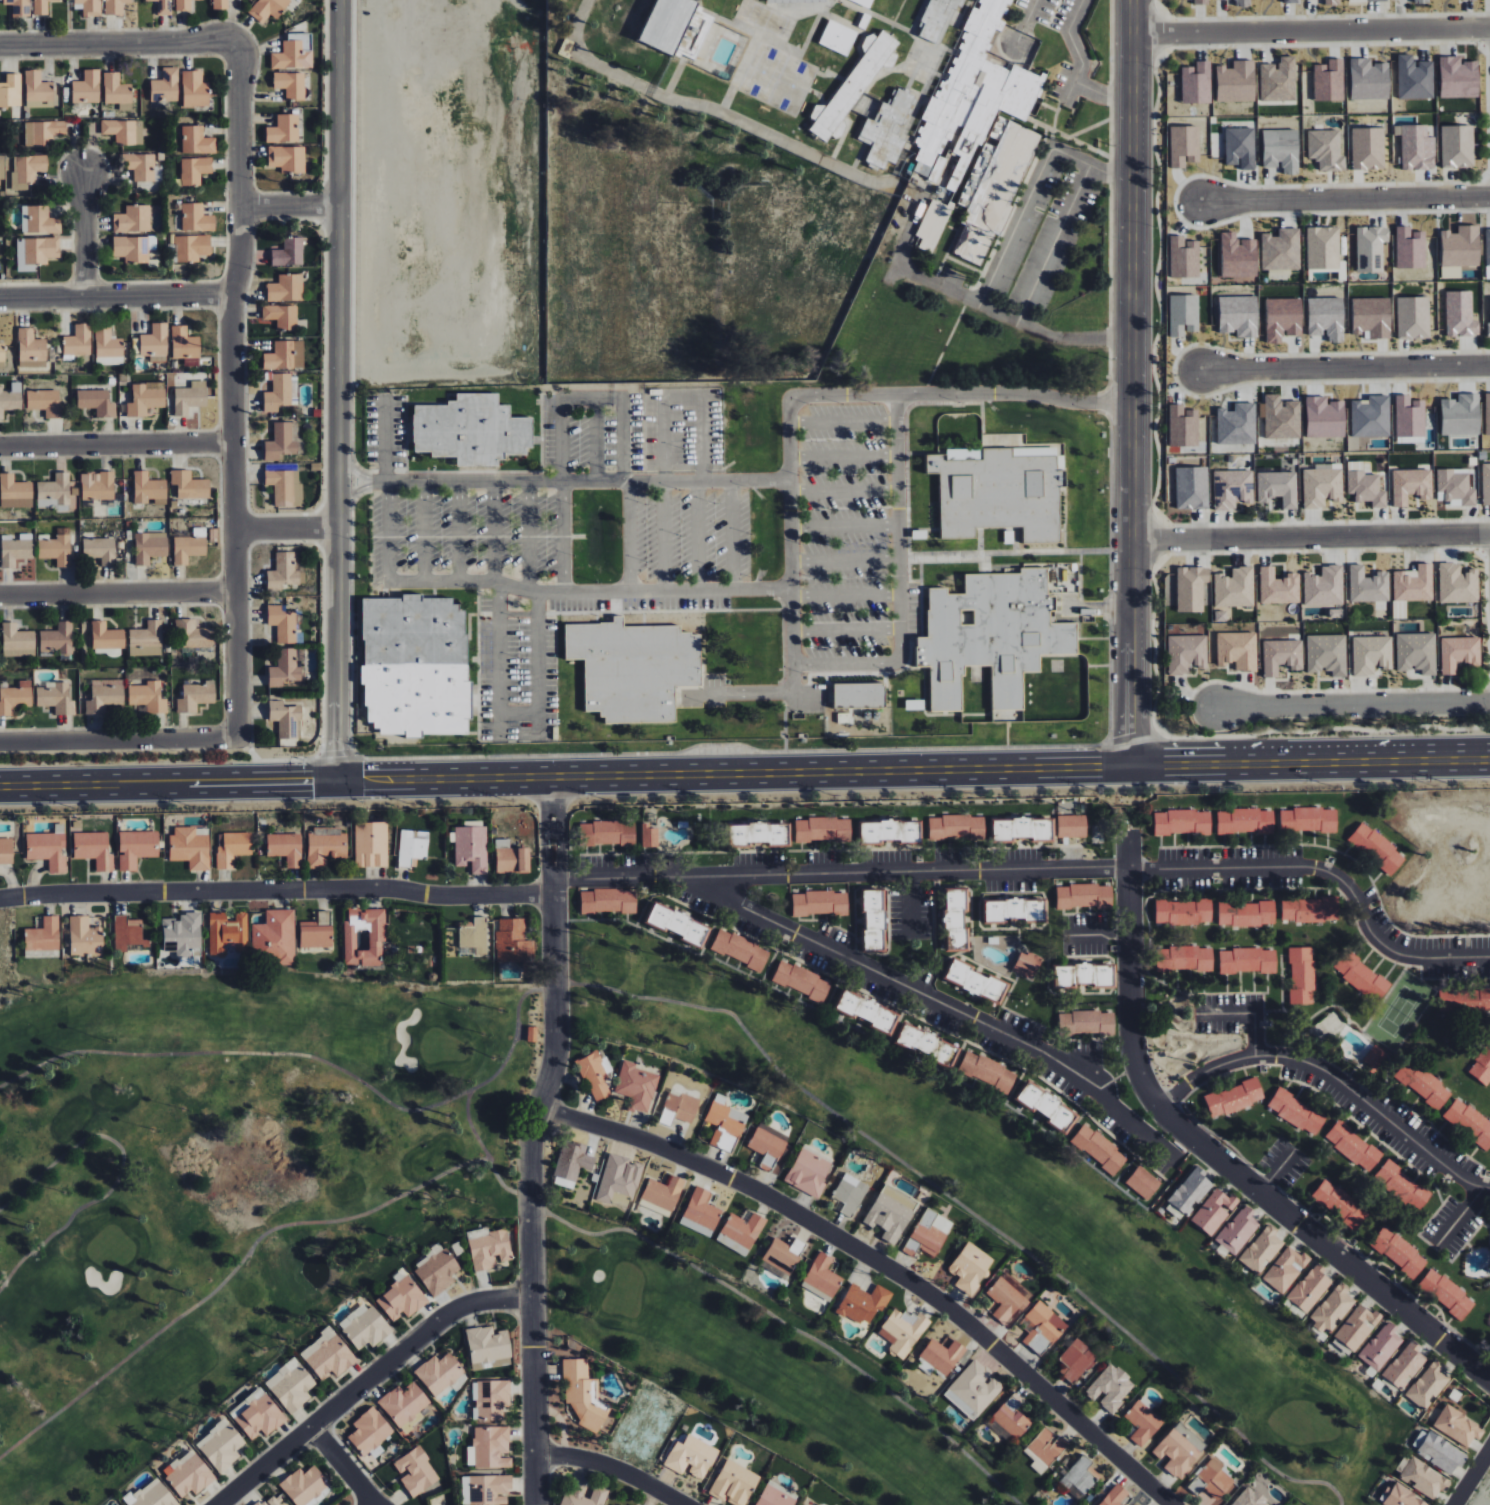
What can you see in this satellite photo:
building: (1376, 0)
building: (793, 1)
building: (1290, 1)
building: (1420, 1)
building: (864, 2)
building: (1201, 2)
building: (1331, 2)
building: (1241, 3)
building: (220, 4)
building: (183, 5)
building: (19, 7)
building: (41, 7)
building: (90, 7)
building: (114, 7)
building: (163, 7)
building: (268, 9)
building: (936, 20)
road: (1026, 21)
building: (666, 24)
road: (1311, 31)
building: (838, 37)
road: (116, 41)
road: (1076, 50)
building: (292, 54)
building: (1458, 77)
building: (1415, 78)
building: (1369, 79)
building: (1279, 80)
building: (1329, 81)
building: (1236, 82)
building: (1196, 83)
building: (290, 84)
building: (165, 85)
building: (853, 85)
building: (37, 88)
building: (86, 88)
building: (116, 89)
building: (194, 89)
building: (11, 91)
building: (974, 92)
road: (1102, 93)
road: (711, 108)
building: (284, 129)
building: (886, 130)
building: (43, 132)
building: (197, 140)
building: (1184, 145)
building: (1457, 146)
building: (1240, 147)
building: (1368, 148)
building: (1417, 148)
building: (1326, 149)
building: (1281, 150)
building: (287, 158)
building: (140, 166)
building: (27, 169)
building: (194, 170)
road: (1033, 185)
road: (1345, 196)
road: (287, 204)
building: (196, 218)
building: (133, 219)
building: (39, 220)
building: (932, 224)
road: (79, 228)
road: (1054, 243)
building: (1461, 246)
building: (192, 247)
building: (1487, 247)
building: (134, 248)
building: (1323, 248)
building: (1371, 248)
building: (1410, 248)
building: (1281, 250)
building: (36, 252)
building: (289, 253)
building: (1184, 257)
building: (1238, 257)
building: (286, 288)
road: (115, 293)
road: (977, 303)
building: (1460, 314)
building: (281, 315)
building: (1238, 315)
building: (1371, 317)
building: (1413, 317)
building: (1326, 318)
building: (1282, 319)
building: (1488, 330)
building: (78, 341)
building: (155, 343)
building: (184, 343)
building: (107, 347)
building: (31, 349)
building: (2, 352)
building: (285, 355)
road: (1344, 369)
road: (1132, 383)
road: (336, 389)
road: (228, 391)
building: (277, 392)
building: (190, 397)
road: (590, 397)
road: (683, 397)
building: (10, 398)
building: (144, 400)
building: (44, 402)
building: (96, 402)
road: (788, 412)
building: (1487, 413)
building: (1460, 415)
building: (1324, 417)
building: (1371, 417)
building: (1409, 417)
building: (1281, 418)
building: (1237, 424)
building: (1183, 426)
building: (471, 430)
road: (593, 438)
road: (115, 442)
building: (281, 442)
road: (355, 473)
road: (581, 480)
building: (1486, 484)
building: (190, 485)
building: (1365, 485)
building: (1411, 485)
building: (97, 486)
building: (1322, 487)
building: (285, 488)
road: (355, 488)
building: (1192, 488)
building: (1232, 488)
building: (1278, 488)
building: (1455, 488)
building: (149, 489)
building: (13, 491)
building: (58, 492)
building: (981, 497)
road: (285, 525)
road: (629, 534)
road: (663, 534)
road: (695, 534)
road: (732, 534)
road: (1312, 536)
building: (190, 546)
building: (57, 547)
building: (150, 547)
building: (16, 549)
building: (100, 549)
building: (284, 572)
road: (497, 580)
road: (898, 580)
building: (1414, 584)
building: (1458, 584)
building: (1368, 585)
building: (1278, 587)
building: (1324, 587)
building: (1191, 588)
building: (1235, 588)
road: (117, 590)
building: (282, 624)
building: (192, 634)
building: (106, 636)
building: (991, 636)
building: (57, 638)
building: (146, 640)
building: (17, 641)
building: (1238, 650)
building: (1417, 652)
building: (1186, 653)
building: (1460, 653)
building: (1327, 654)
building: (1371, 654)
building: (1282, 656)
road: (498, 658)
road: (536, 664)
building: (415, 666)
building: (634, 668)
building: (285, 669)
building: (104, 695)
building: (859, 695)
building: (148, 697)
building: (195, 697)
building: (15, 698)
building: (56, 698)
road: (1354, 704)
road: (517, 712)
building: (286, 719)
road: (117, 737)
traffic signals: (339, 750)
road: (1312, 764)
road: (567, 776)
traffic signals: (363, 777)
traffic signals: (313, 778)
road: (545, 810)
road: (561, 810)
building: (1308, 819)
building: (1245, 821)
building: (1182, 822)
building: (1072, 826)
building: (956, 827)
building: (823, 829)
building: (1021, 829)
building: (889, 831)
road: (553, 833)
building: (607, 833)
building: (759, 834)
building: (649, 836)
building: (371, 844)
building: (326, 846)
building: (413, 846)
building: (191, 847)
building: (48, 848)
building: (136, 848)
building: (232, 848)
building: (286, 848)
building: (471, 848)
building: (1377, 848)
building: (93, 849)
building: (6, 852)
building: (512, 860)
road: (546, 863)
road: (562, 863)
road: (841, 873)
road: (1329, 873)
road: (277, 889)
building: (1084, 896)
building: (608, 900)
building: (820, 903)
building: (1013, 910)
building: (1310, 910)
building: (1184, 912)
building: (1246, 914)
building: (955, 919)
building: (874, 920)
building: (678, 924)
building: (317, 931)
building: (226, 932)
building: (128, 934)
building: (183, 935)
building: (474, 935)
building: (43, 936)
building: (364, 936)
building: (84, 937)
building: (274, 937)
building: (513, 942)
building: (740, 949)
building: (1185, 958)
building: (1247, 960)
road: (1131, 963)
building: (1027, 965)
building: (1083, 975)
building: (1302, 976)
building: (1361, 976)
building: (802, 981)
building: (974, 981)
building: (1464, 1001)
road: (940, 1002)
building: (867, 1011)
road: (1247, 1013)
building: (1086, 1023)
building: (532, 1034)
building: (926, 1045)
road: (315, 1057)
building: (1376, 1058)
building: (1482, 1067)
building: (988, 1072)
building: (596, 1075)
road: (1335, 1076)
building: (1423, 1084)
building: (637, 1086)
building: (1234, 1098)
building: (1047, 1106)
building: (679, 1107)
building: (1297, 1112)
building: (725, 1121)
building: (1469, 1123)
building: (768, 1144)
building: (1353, 1146)
building: (1099, 1149)
road: (486, 1153)
building: (571, 1163)
road: (121, 1170)
building: (807, 1171)
building: (619, 1180)
building: (1143, 1182)
building: (1402, 1186)
road: (531, 1190)
building: (1191, 1191)
building: (663, 1192)
building: (850, 1194)
building: (1340, 1204)
road: (966, 1208)
building: (1214, 1210)
building: (701, 1212)
building: (891, 1212)
park: (531, 1218)
road: (1460, 1218)
building: (1238, 1229)
building: (928, 1233)
road: (1325, 1245)
building: (488, 1248)
building: (1262, 1249)
building: (1399, 1251)
building: (783, 1254)
road: (880, 1264)
building: (970, 1267)
building: (435, 1269)
building: (1285, 1269)
fountain: (312, 1274)
road: (231, 1276)
building: (822, 1276)
building: (1310, 1288)
building: (1447, 1293)
building: (402, 1298)
building: (1005, 1300)
building: (864, 1303)
building: (1333, 1307)
building: (1042, 1323)
building: (364, 1326)
road: (787, 1326)
building: (1356, 1328)
building: (903, 1331)
building: (1381, 1346)
building: (488, 1347)
building: (328, 1354)
building: (942, 1355)
building: (1076, 1360)
building: (1405, 1365)
building: (439, 1372)
road: (367, 1381)
building: (291, 1385)
building: (1429, 1385)
building: (1110, 1387)
building: (974, 1389)
building: (583, 1394)
building: (490, 1399)
building: (404, 1403)
building: (429, 1410)
building: (258, 1414)
building: (1012, 1418)
building: (1143, 1420)
building: (1457, 1426)
building: (370, 1432)
building: (221, 1445)
building: (489, 1447)
building: (1045, 1449)
building: (1438, 1451)
building: (1176, 1453)
building: (691, 1456)
road: (343, 1465)
road: (614, 1467)
building: (416, 1471)
building: (188, 1473)
road: (1472, 1477)
building: (1079, 1478)
building: (1424, 1478)
building: (1212, 1479)
building: (734, 1483)
building: (304, 1485)
building: (490, 1489)
building: (151, 1494)
building: (571, 1494)
building: (1115, 1496)
building: (774, 1497)
building: (1401, 1497)
building: (1250, 1498)
building: (269, 1502)
building: (118, 1504)
building: (615, 1504)
building: (635, 1504)
building: (820, 1504)

